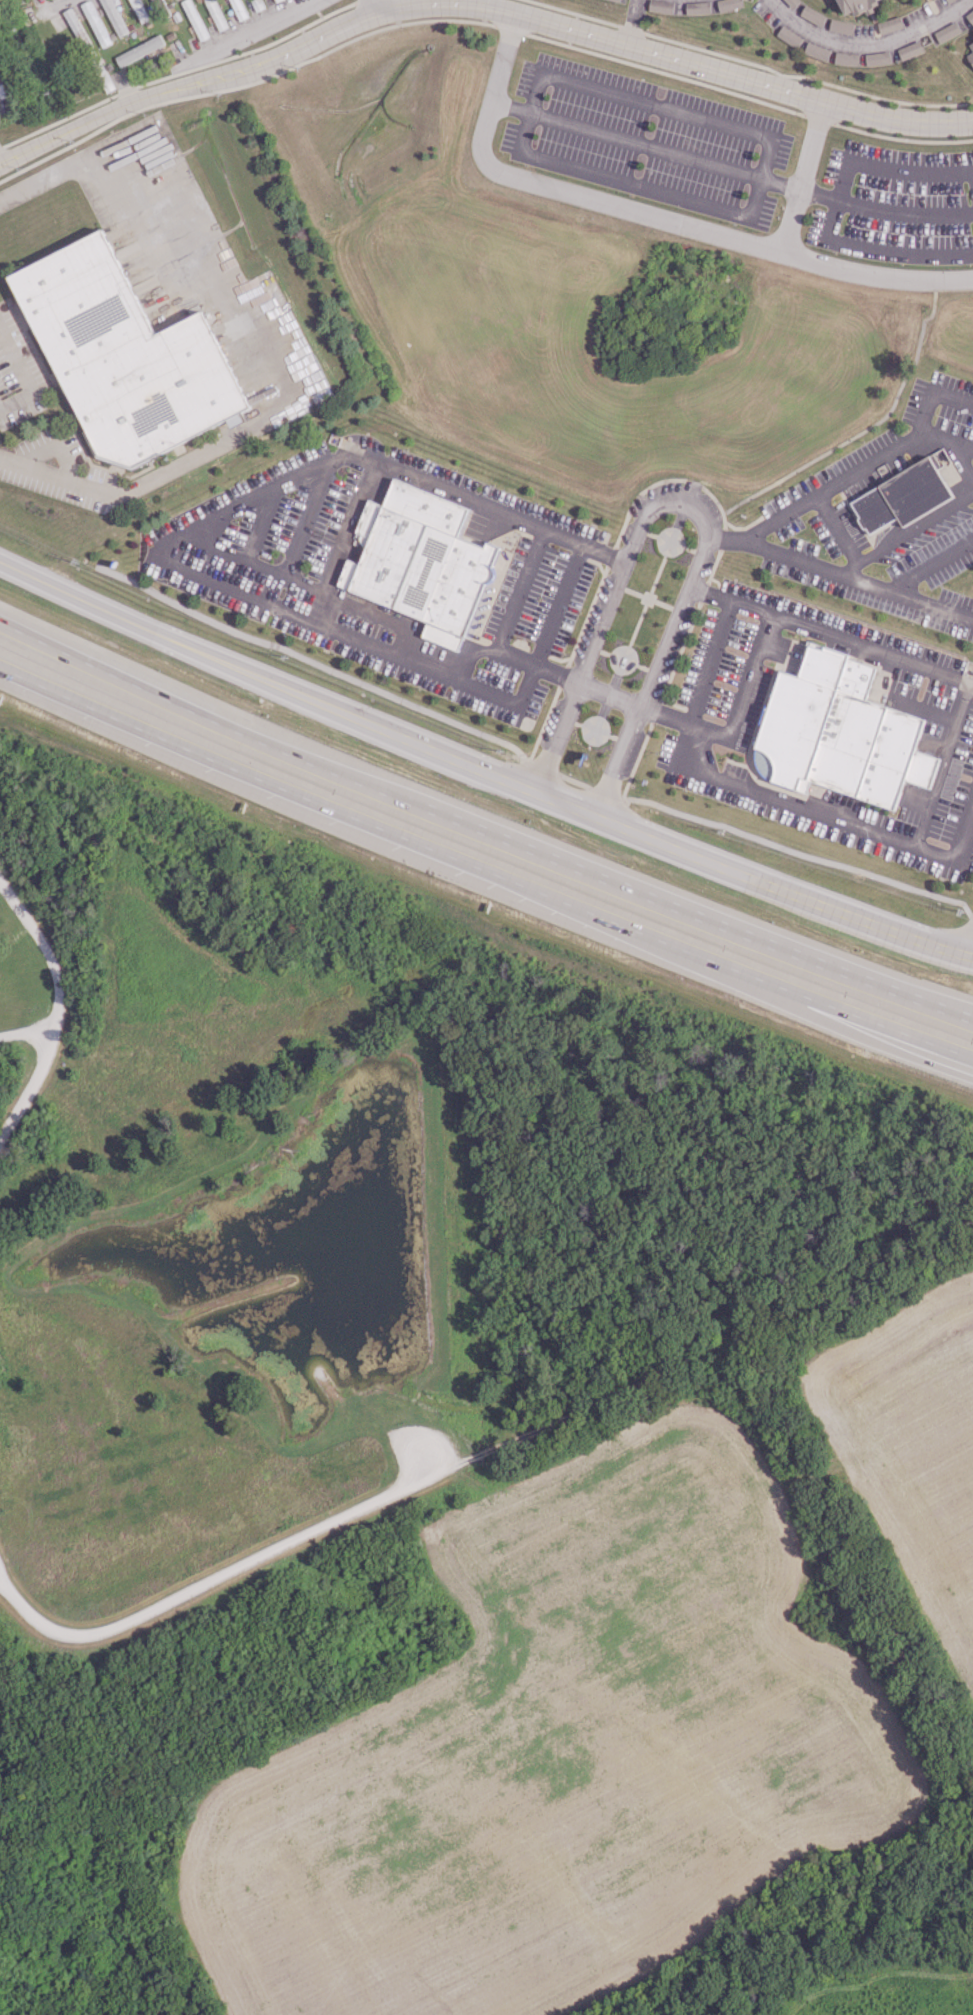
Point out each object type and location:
building: (274, 0)
building: (615, 0)
building: (947, 0)
building: (791, 2)
building: (727, 4)
building: (856, 5)
road: (372, 6)
building: (660, 6)
road: (50, 7)
building: (697, 7)
building: (238, 9)
building: (138, 10)
building: (215, 15)
building: (812, 15)
building: (969, 15)
building: (114, 16)
building: (194, 19)
building: (95, 23)
building: (888, 25)
building: (75, 26)
building: (840, 26)
road: (508, 29)
road: (246, 31)
building: (946, 32)
road: (866, 42)
building: (138, 50)
building: (909, 50)
building: (815, 51)
building: (970, 54)
road: (254, 65)
road: (741, 78)
road: (887, 99)
road: (528, 103)
road: (895, 138)
road: (662, 152)
road: (802, 179)
road: (571, 195)
road: (833, 208)
road: (903, 213)
road: (875, 274)
road: (248, 333)
building: (125, 355)
road: (22, 375)
road: (925, 413)
road: (946, 438)
road: (954, 438)
building: (902, 497)
road: (811, 498)
road: (687, 504)
road: (305, 517)
road: (259, 524)
road: (490, 525)
road: (838, 528)
road: (906, 533)
road: (343, 541)
road: (605, 553)
building: (421, 561)
road: (715, 563)
road: (932, 566)
road: (842, 573)
road: (196, 576)
road: (313, 588)
road: (520, 590)
road: (831, 634)
road: (577, 639)
road: (749, 677)
road: (362, 682)
road: (582, 687)
road: (159, 696)
road: (902, 698)
road: (692, 718)
building: (838, 730)
road: (942, 766)
road: (482, 770)
road: (270, 782)
road: (882, 836)
road: (867, 873)
road: (644, 899)
road: (651, 937)
road: (53, 975)
road: (866, 1018)
road: (862, 1037)
road: (30, 1085)
dam: (421, 1213)
road: (791, 1434)
parking lot: (437, 1471)
road: (230, 1570)

